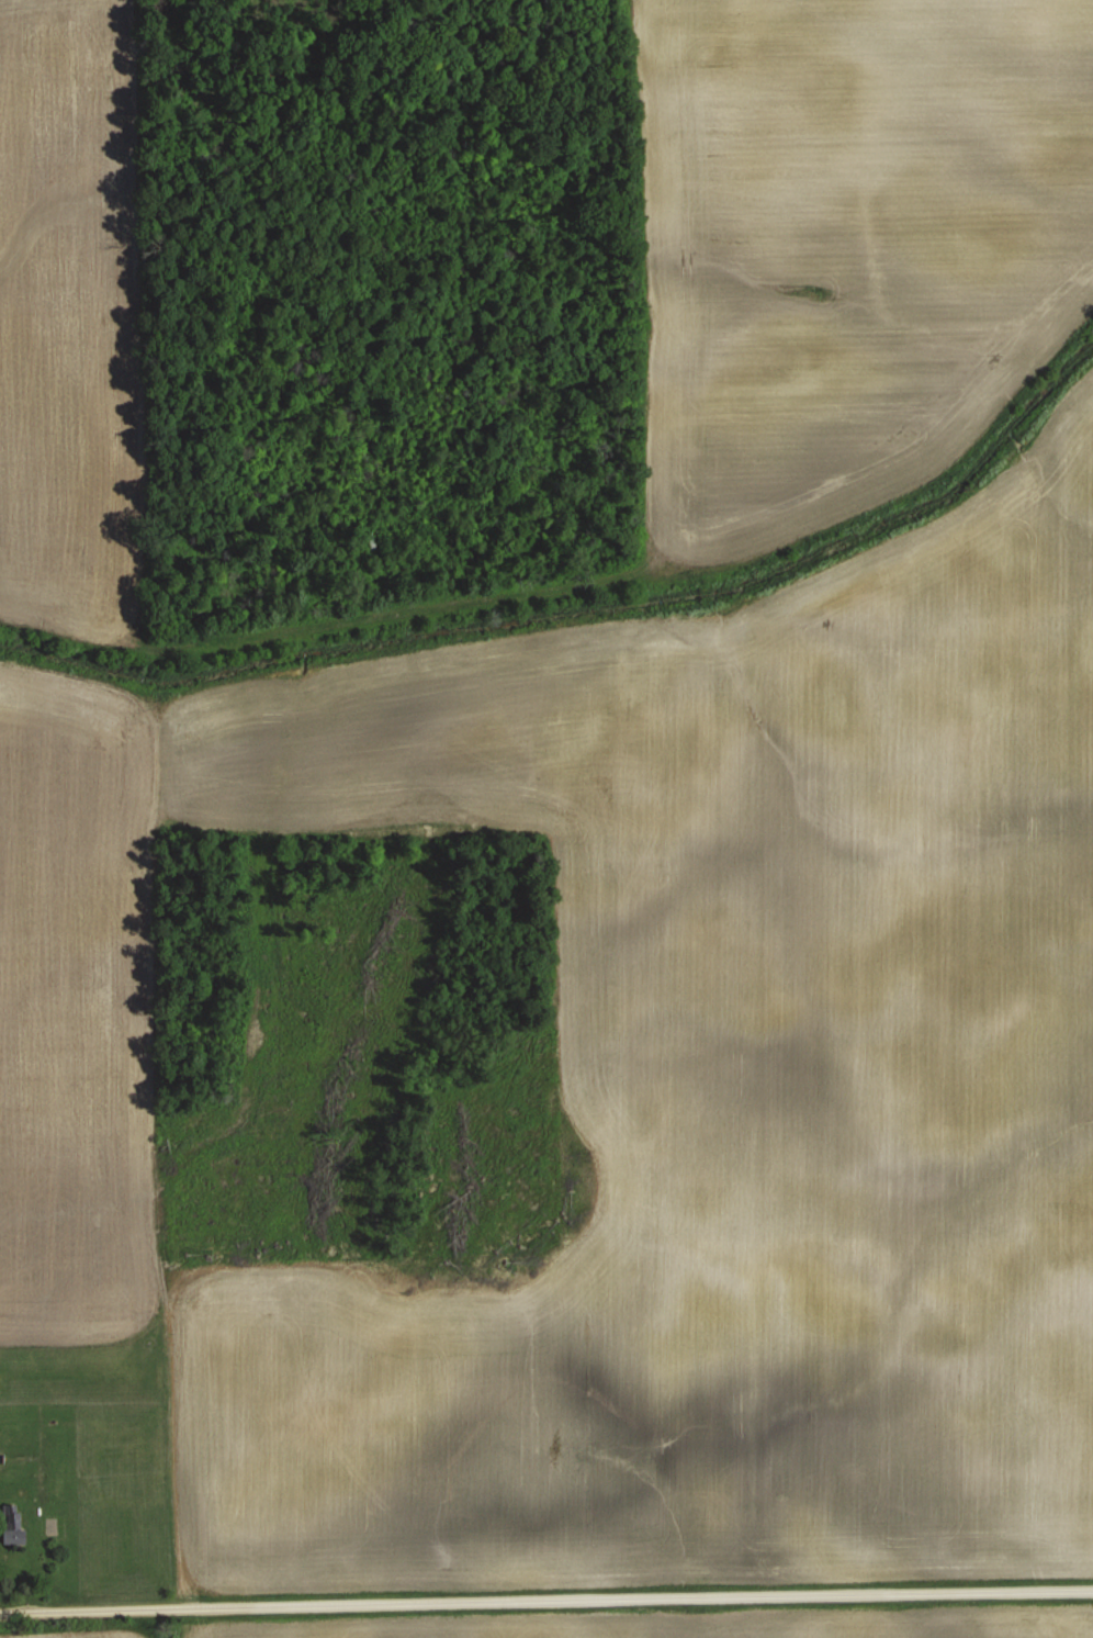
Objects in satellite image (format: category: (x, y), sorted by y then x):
building: (12, 1525)
road: (546, 1601)

